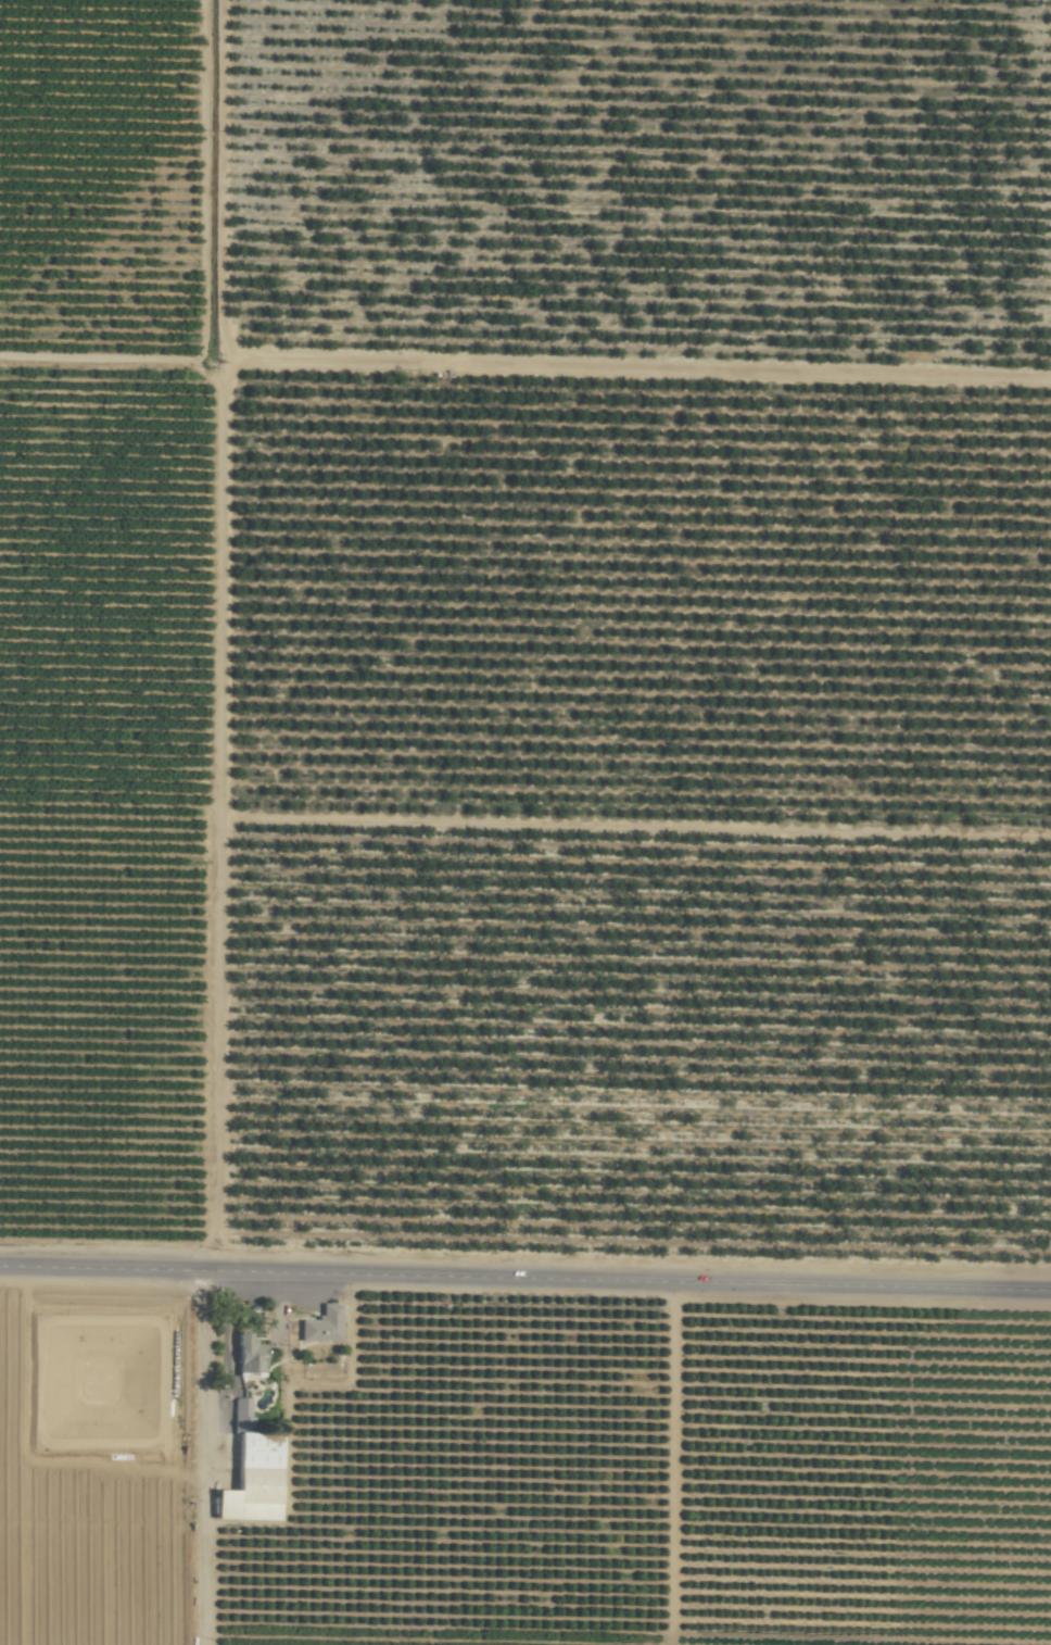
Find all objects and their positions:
crop: (525, 823)
road: (525, 1279)
building: (321, 1324)
building: (248, 1355)
building: (251, 1472)

